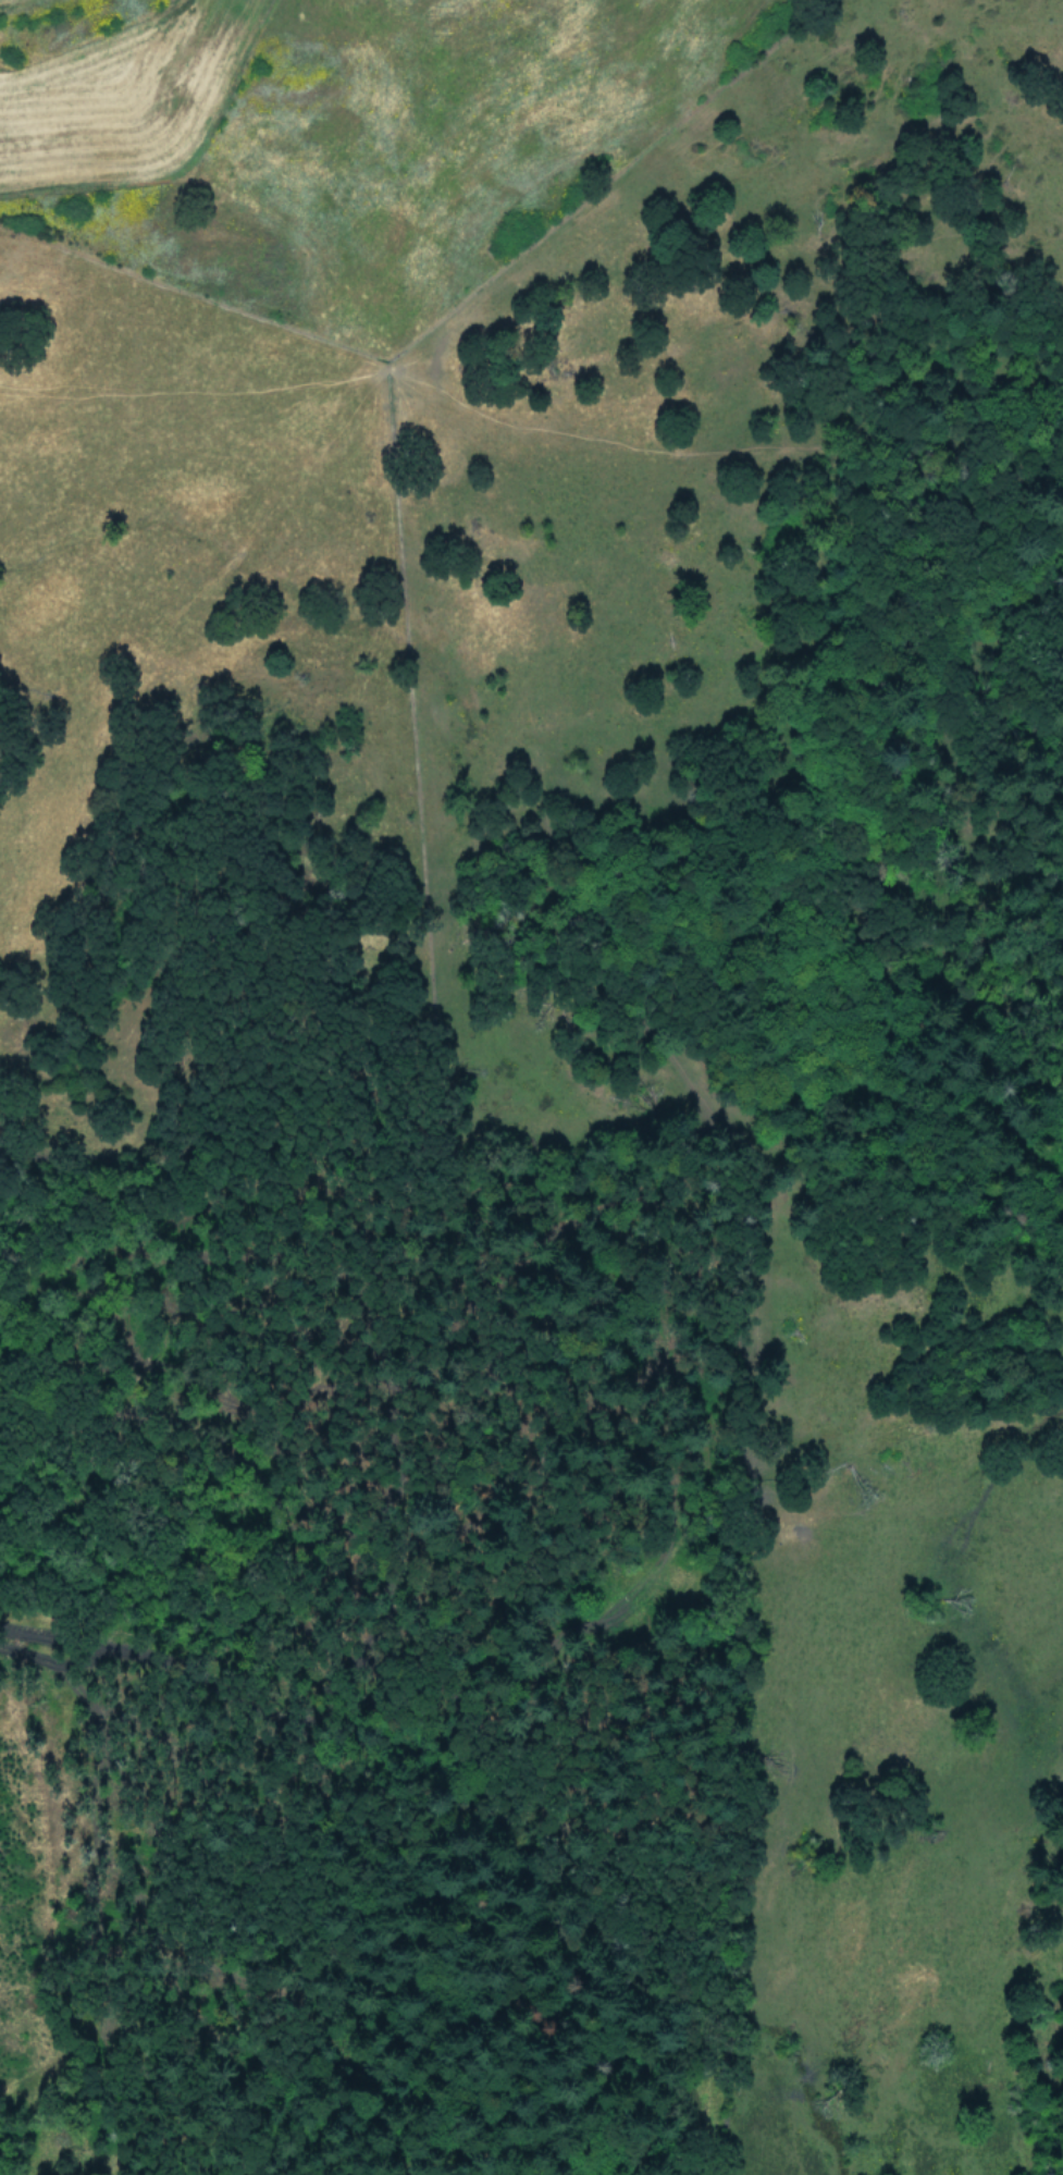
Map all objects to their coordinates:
crop: (227, 140)

